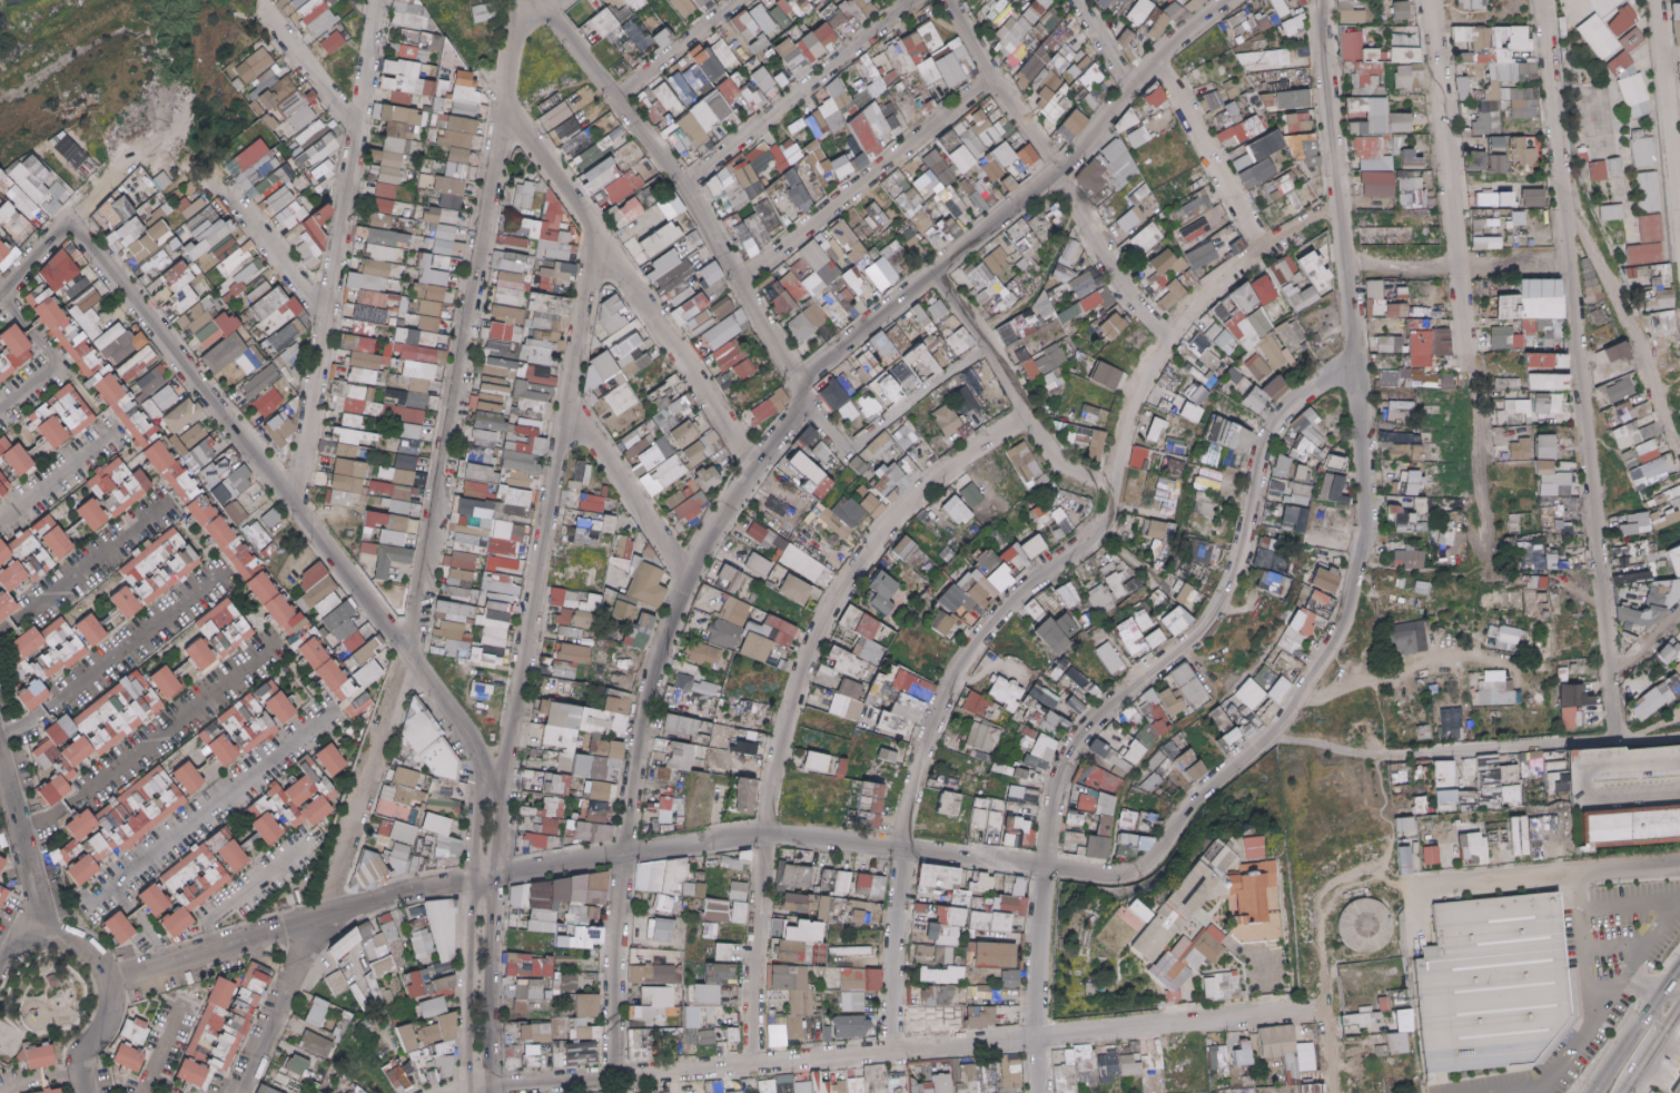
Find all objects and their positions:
park: (36, 440)
park: (76, 521)
park: (248, 601)
park: (108, 607)
park: (185, 661)
park: (302, 674)
park: (251, 833)
park: (75, 903)
park: (275, 904)
park: (50, 995)

